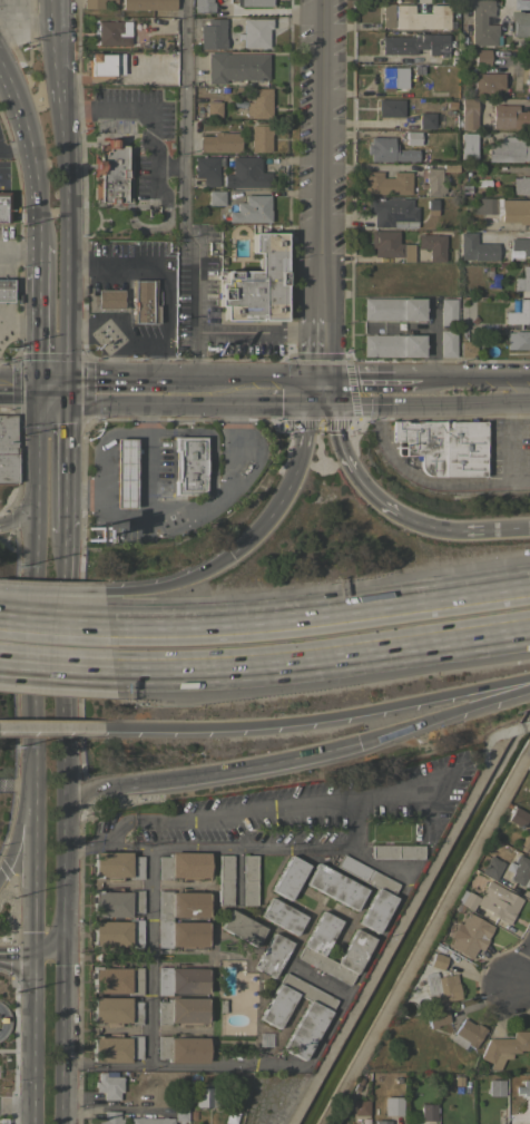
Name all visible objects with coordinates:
building: (255, 2)
building: (95, 3)
building: (147, 4)
building: (522, 4)
building: (202, 6)
building: (414, 16)
road: (31, 23)
building: (482, 23)
building: (520, 23)
road: (6, 29)
building: (255, 31)
building: (112, 32)
building: (210, 33)
building: (415, 43)
building: (481, 57)
building: (104, 65)
building: (235, 67)
building: (385, 78)
building: (527, 80)
building: (487, 84)
building: (258, 102)
building: (390, 108)
road: (153, 109)
building: (213, 109)
road: (185, 111)
building: (467, 114)
building: (509, 117)
building: (425, 120)
building: (412, 137)
building: (259, 138)
building: (219, 141)
building: (467, 145)
building: (386, 147)
building: (509, 148)
road: (30, 150)
road: (322, 165)
building: (205, 167)
building: (449, 167)
building: (109, 173)
building: (247, 173)
building: (433, 182)
building: (385, 183)
building: (521, 185)
road: (68, 194)
building: (215, 197)
building: (431, 204)
building: (2, 206)
building: (503, 208)
building: (252, 209)
building: (392, 212)
building: (489, 223)
building: (390, 245)
building: (478, 245)
building: (432, 246)
building: (519, 246)
road: (20, 253)
road: (40, 260)
road: (190, 277)
building: (523, 280)
building: (255, 283)
building: (4, 289)
building: (108, 299)
building: (143, 302)
building: (392, 309)
building: (493, 310)
road: (165, 311)
building: (448, 312)
building: (519, 313)
road: (39, 331)
road: (258, 331)
building: (518, 340)
building: (448, 343)
building: (392, 344)
building: (467, 349)
road: (195, 360)
road: (321, 360)
road: (109, 375)
road: (177, 383)
road: (20, 388)
traffic signals: (40, 389)
road: (52, 389)
traffic signals: (65, 389)
road: (213, 389)
road: (239, 389)
road: (284, 389)
traffic signals: (321, 389)
road: (349, 389)
road: (399, 389)
road: (475, 390)
road: (173, 394)
road: (106, 401)
road: (151, 417)
road: (332, 422)
road: (508, 436)
road: (100, 439)
building: (443, 446)
building: (7, 449)
road: (62, 459)
building: (188, 466)
building: (124, 473)
road: (149, 476)
road: (422, 478)
road: (289, 479)
road: (365, 486)
road: (183, 515)
road: (19, 519)
road: (429, 526)
road: (498, 528)
road: (171, 585)
road: (52, 593)
road: (320, 614)
road: (53, 617)
road: (65, 638)
road: (322, 662)
road: (56, 668)
road: (38, 672)
road: (317, 717)
road: (0, 726)
road: (51, 726)
road: (336, 747)
building: (528, 786)
road: (100, 789)
road: (369, 799)
road: (225, 815)
building: (517, 817)
road: (21, 821)
road: (65, 832)
road: (98, 841)
building: (524, 841)
building: (395, 851)
building: (117, 864)
building: (181, 864)
building: (491, 867)
building: (520, 871)
building: (288, 878)
building: (225, 880)
building: (248, 880)
building: (334, 887)
building: (382, 891)
building: (464, 899)
building: (116, 902)
building: (498, 905)
building: (281, 916)
building: (164, 919)
traffic signals: (65, 920)
building: (242, 928)
building: (117, 932)
building: (468, 935)
road: (375, 939)
road: (57, 944)
building: (355, 947)
road: (147, 955)
building: (271, 955)
road: (18, 956)
traffic signals: (36, 956)
building: (436, 961)
road: (513, 976)
building: (116, 979)
building: (180, 980)
building: (440, 987)
building: (315, 1009)
building: (115, 1010)
building: (180, 1010)
building: (435, 1017)
road: (63, 1022)
building: (467, 1034)
road: (33, 1039)
building: (115, 1048)
building: (180, 1048)
building: (504, 1048)
road: (82, 1065)
building: (108, 1085)
building: (524, 1086)
building: (495, 1087)
building: (207, 1095)
road: (17, 1106)
building: (393, 1106)
building: (360, 1107)
building: (426, 1112)
building: (180, 1113)
building: (513, 1115)
building: (109, 1117)
building: (229, 1117)
building: (149, 1121)
building: (363, 1121)
building: (381, 1122)

